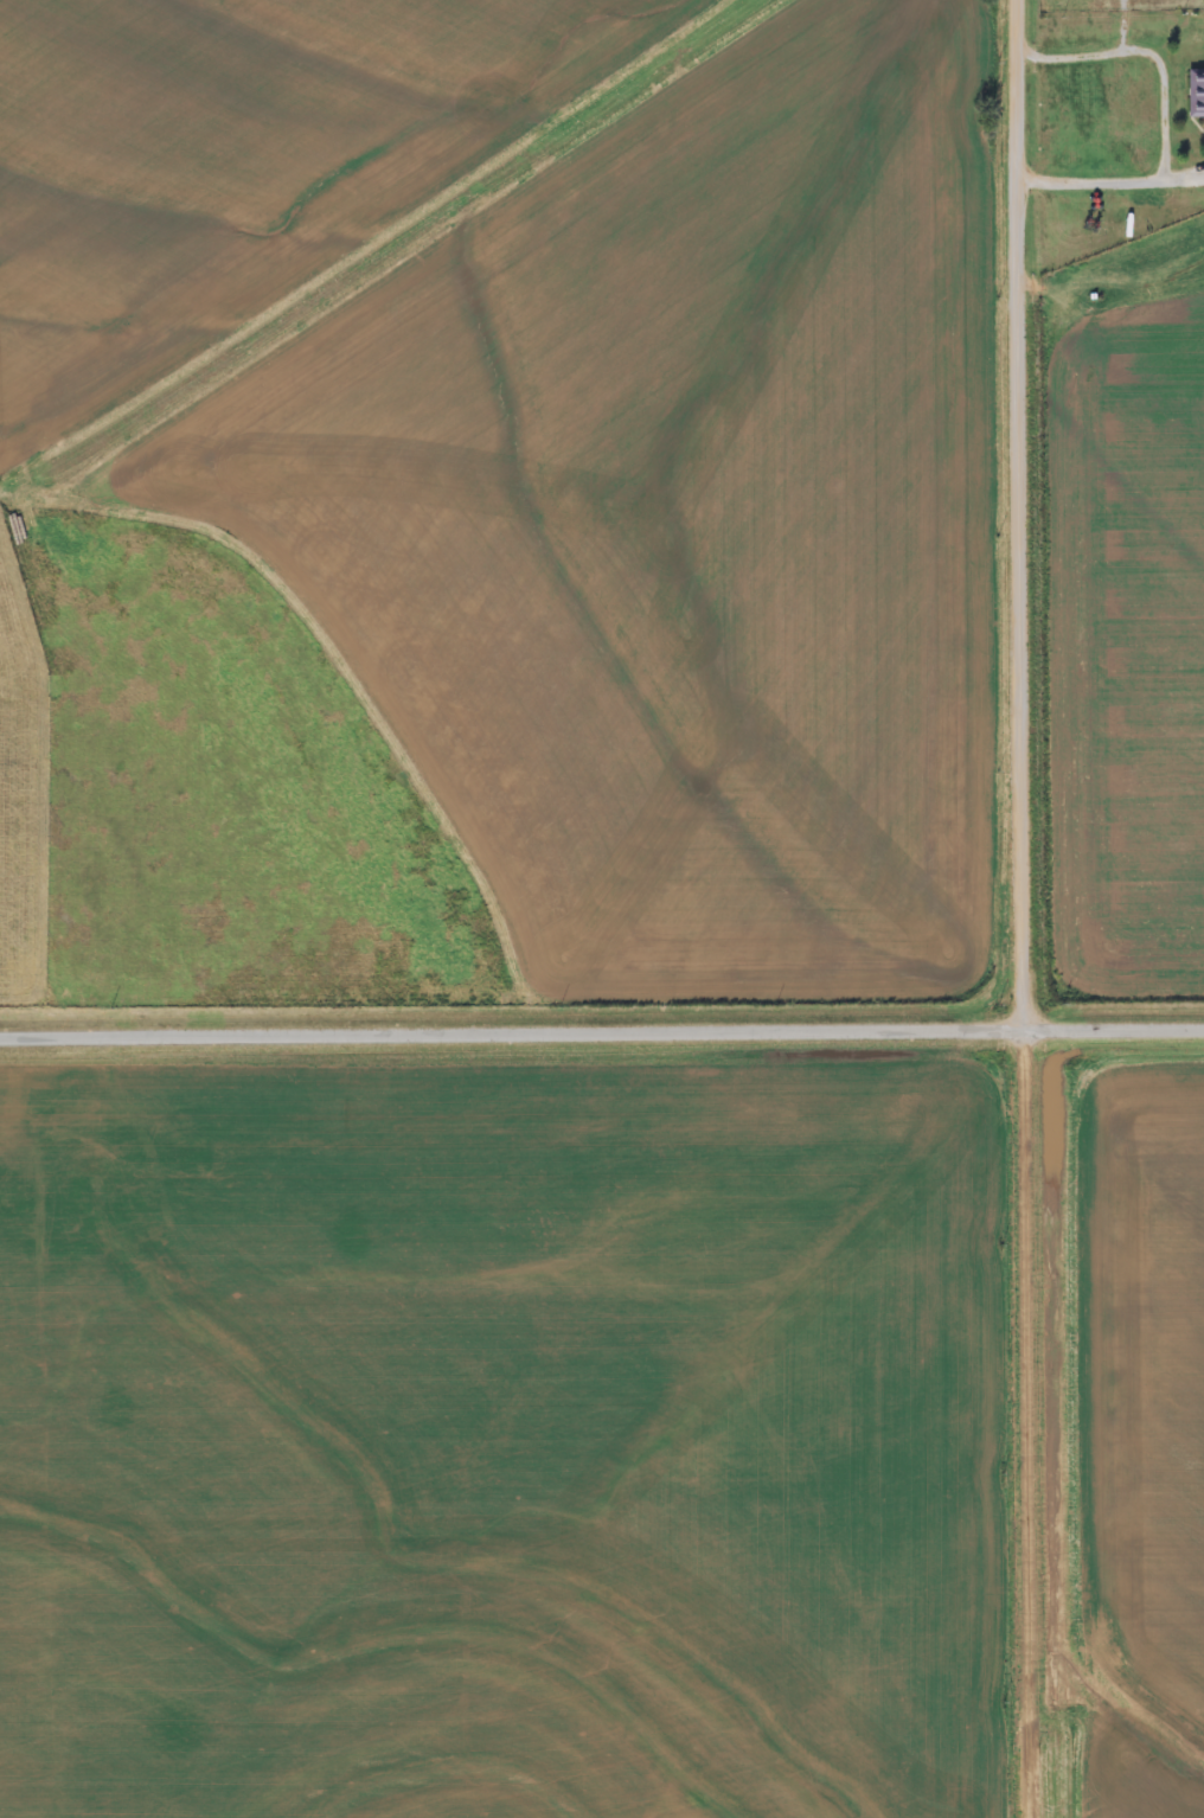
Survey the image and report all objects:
building: (1196, 94)
road: (1017, 909)
road: (601, 1033)

